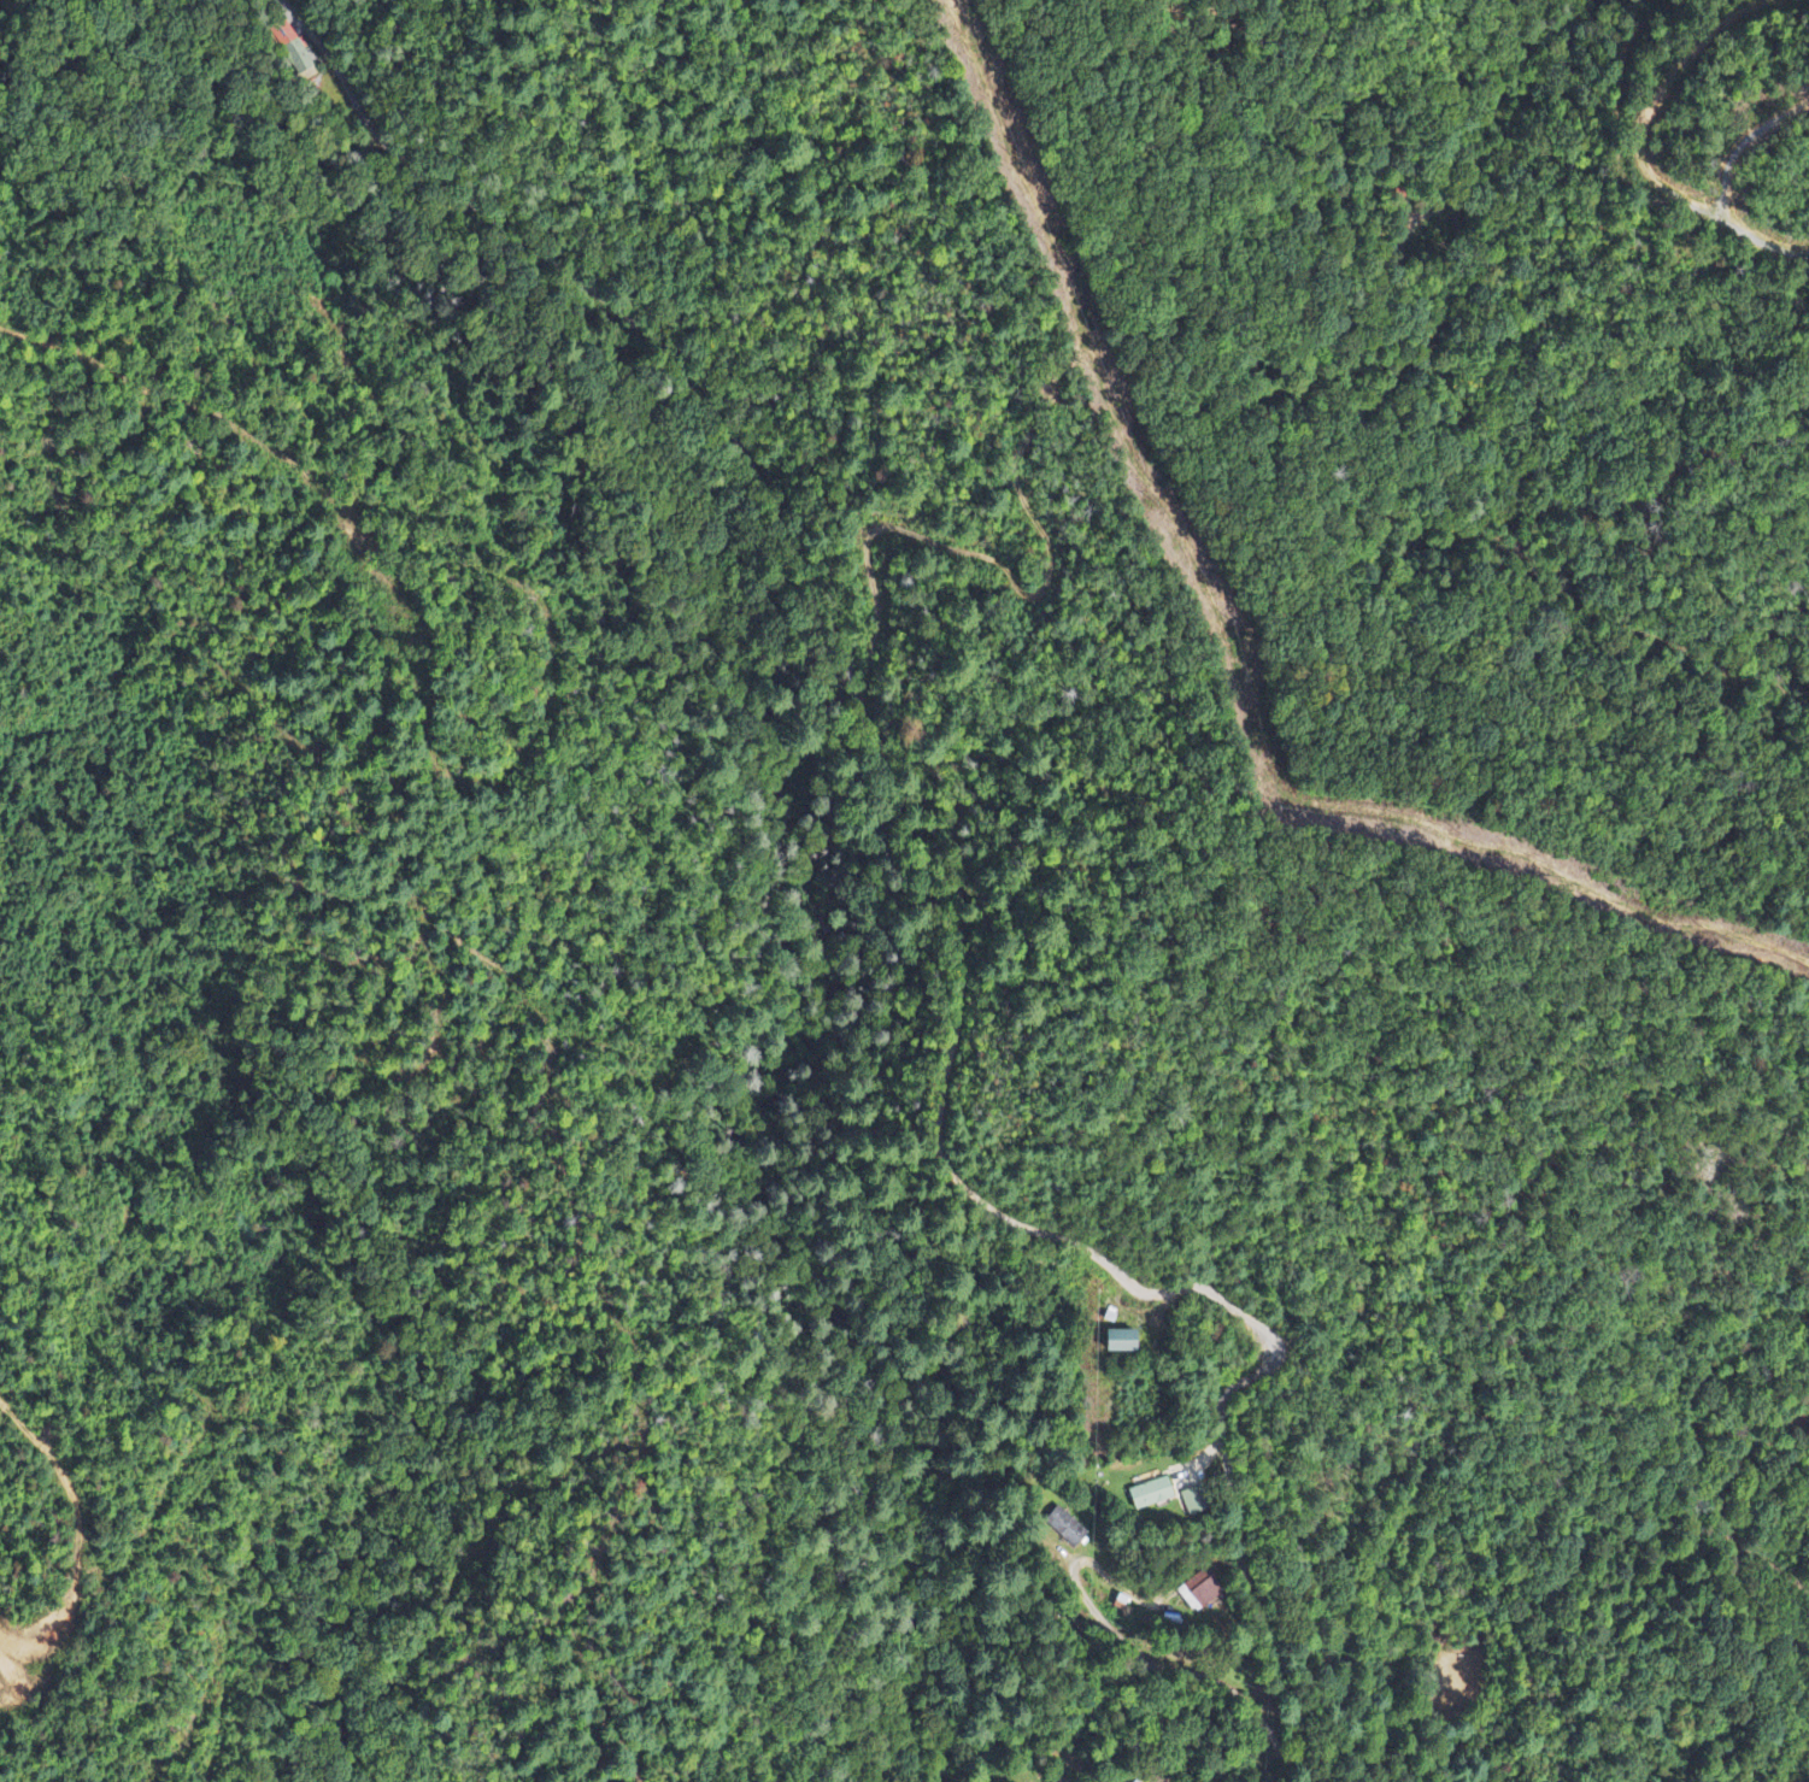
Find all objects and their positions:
building: (294, 52)
road: (989, 872)
building: (1118, 1342)
building: (1149, 1494)
building: (1191, 1502)
building: (1064, 1528)
building: (1197, 1593)
building: (1135, 1781)

